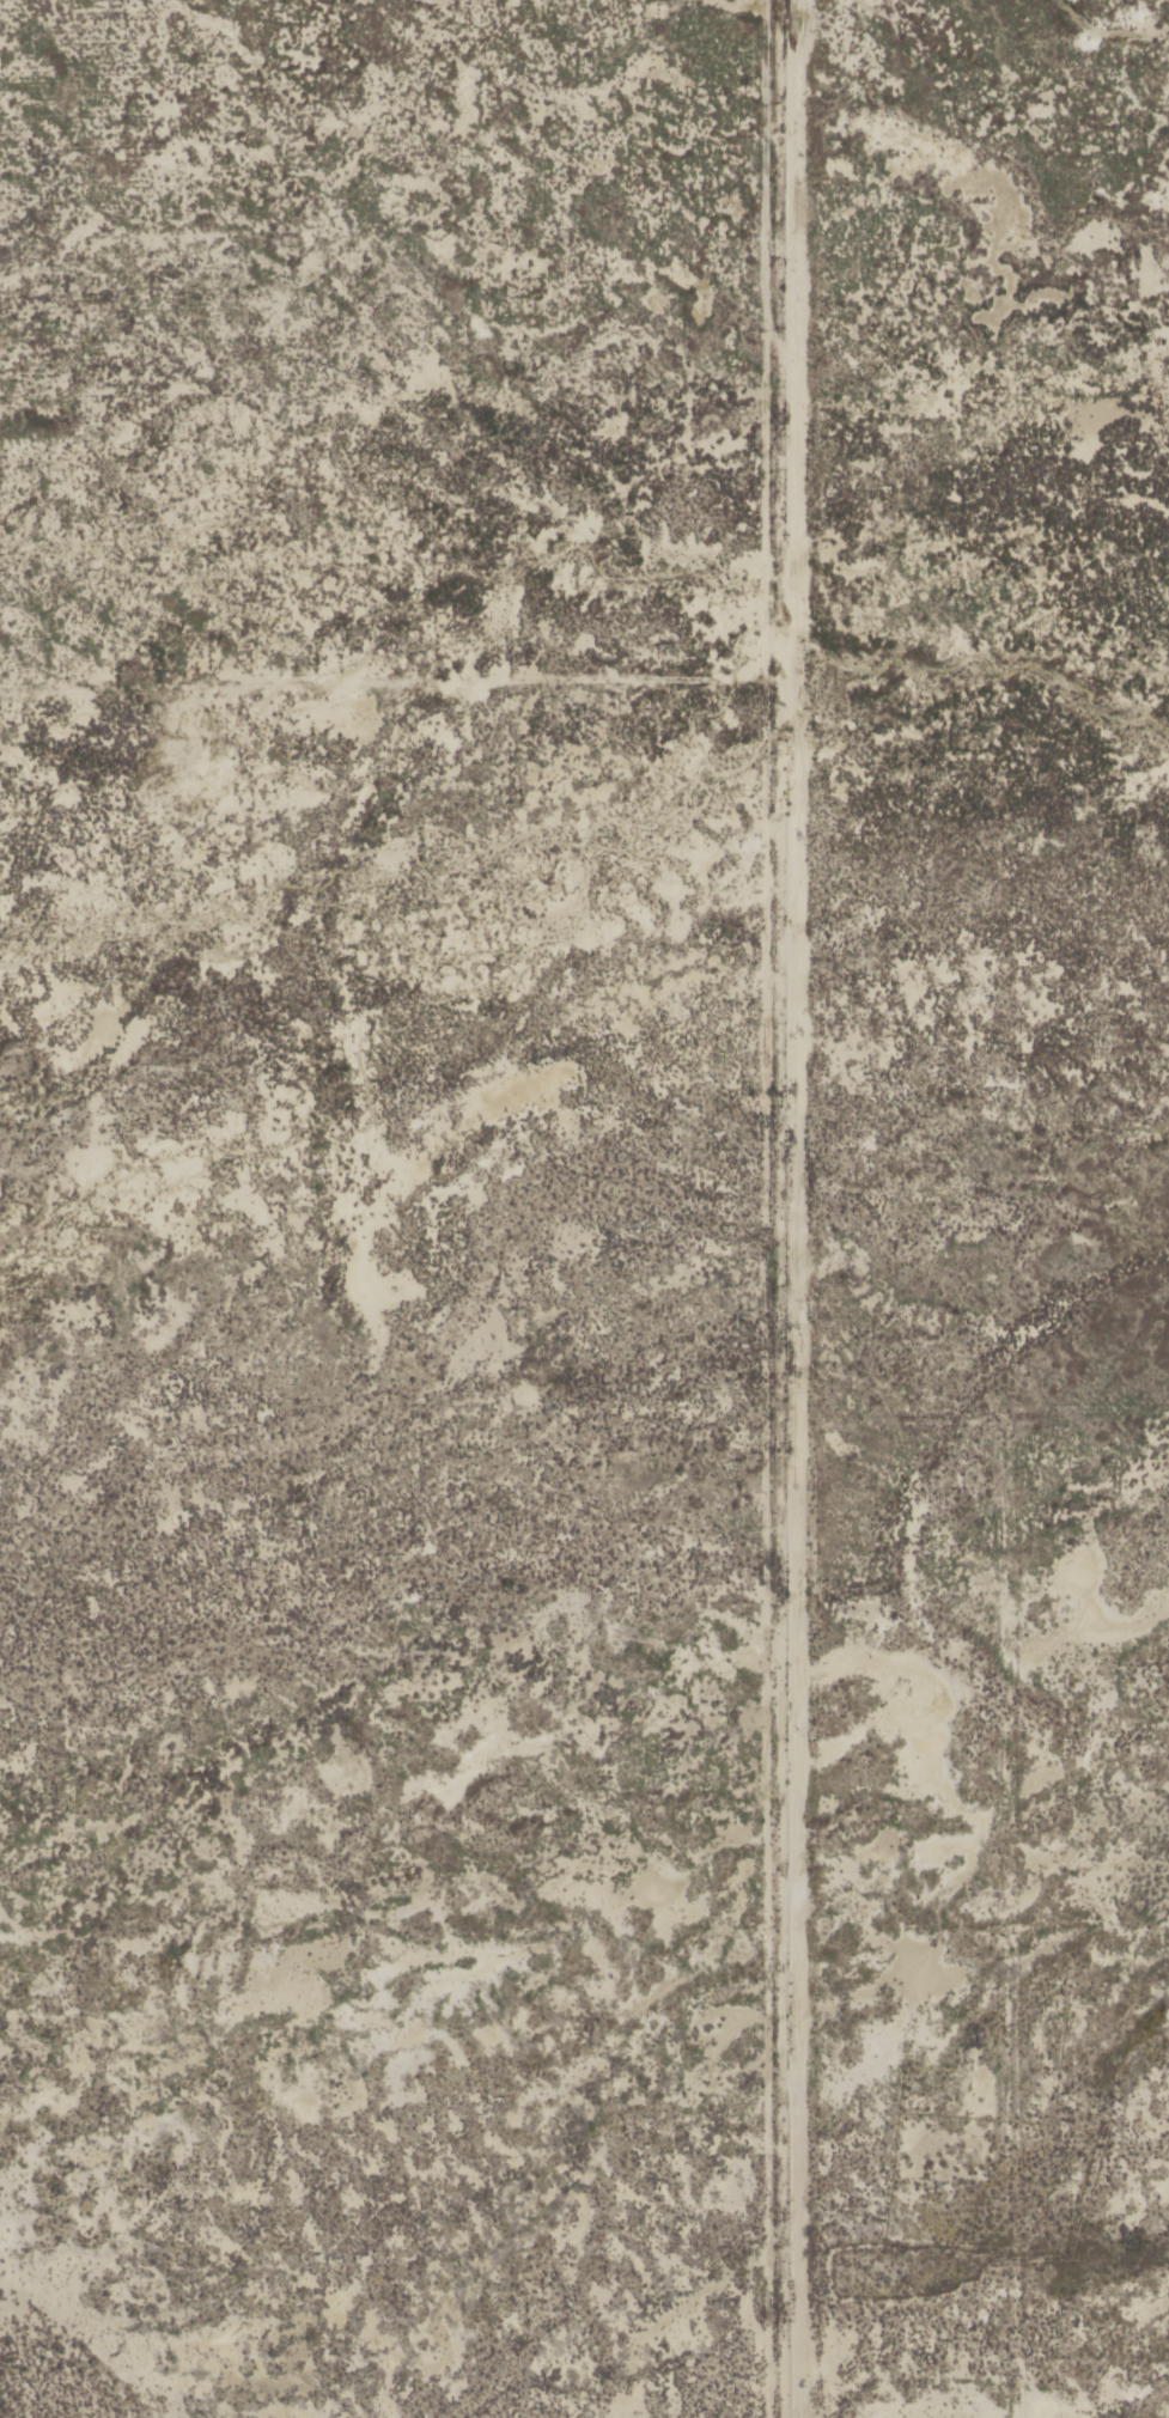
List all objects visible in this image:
road: (768, 1208)

